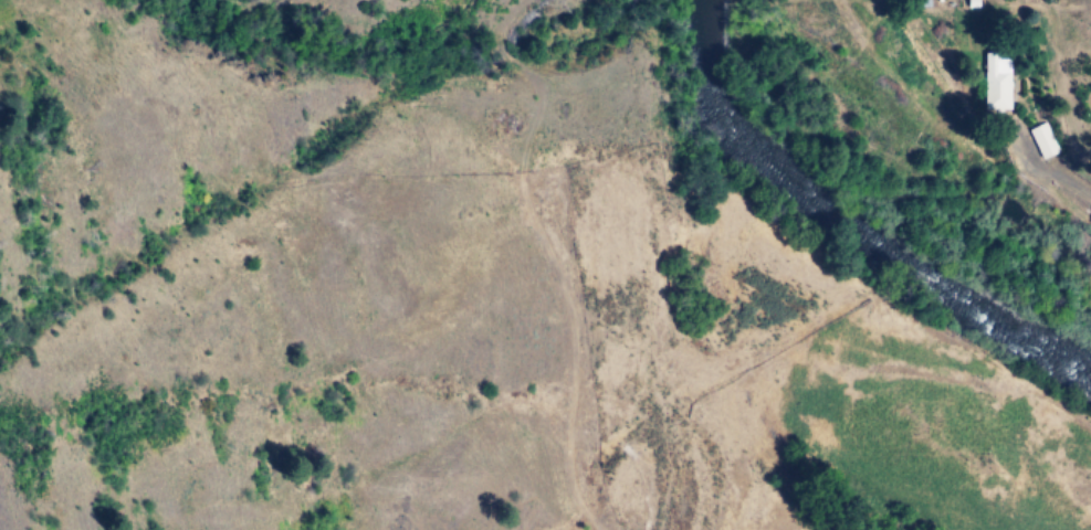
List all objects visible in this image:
building: (997, 81)
building: (1043, 140)
road: (1040, 172)
river: (868, 219)

